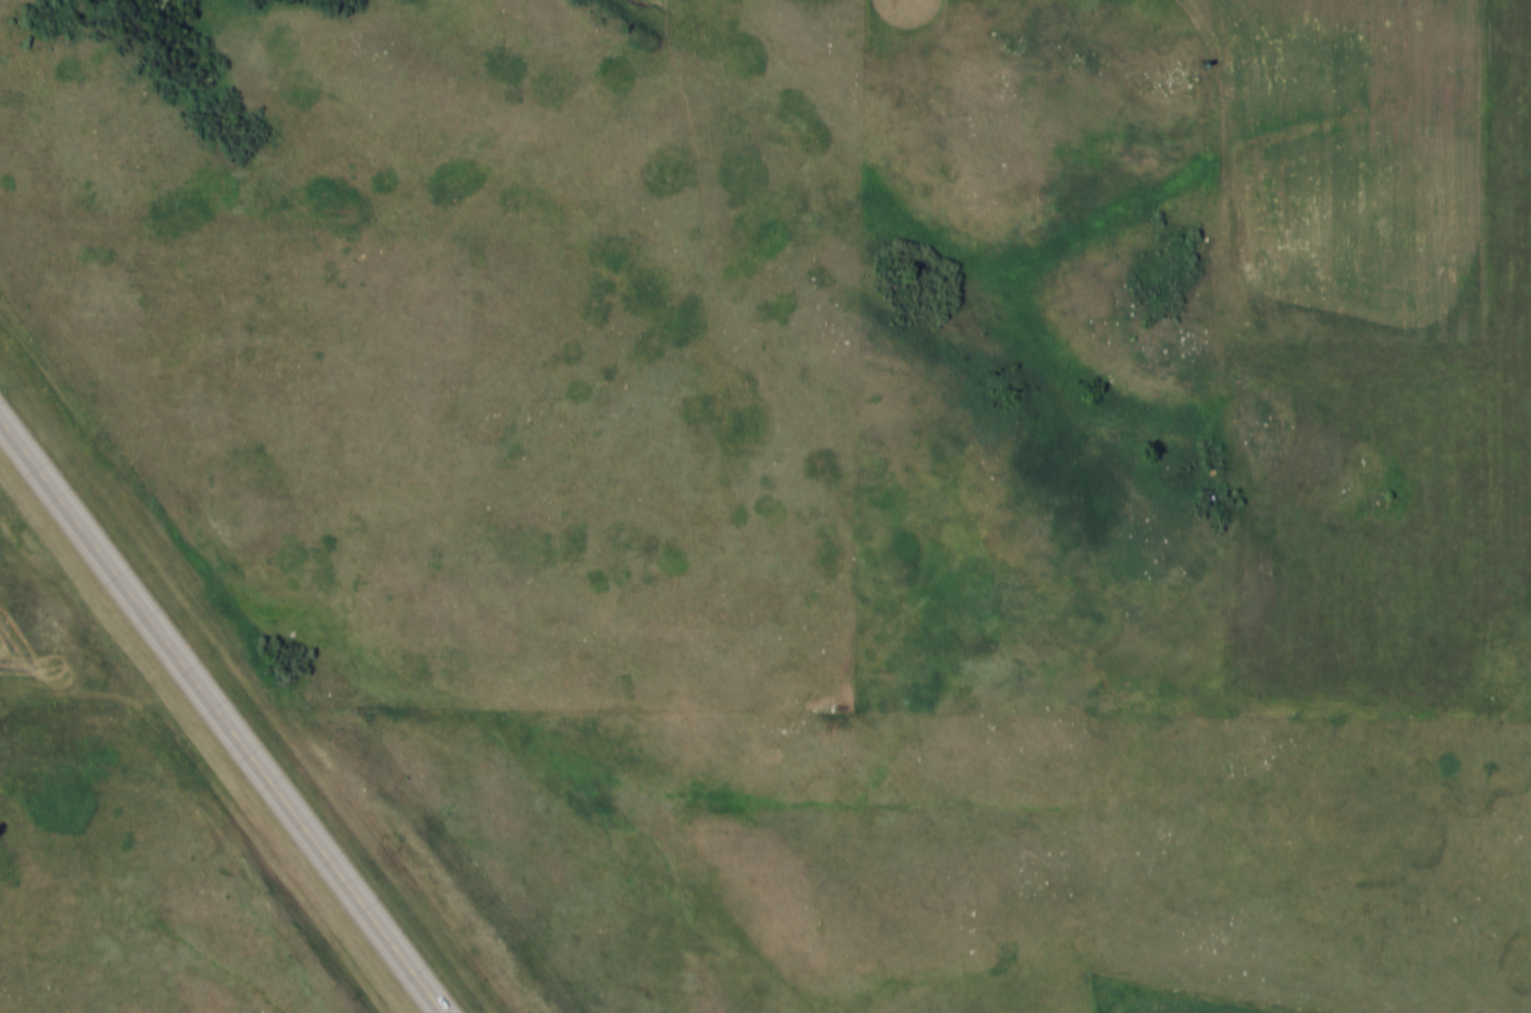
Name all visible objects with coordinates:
road: (223, 715)

